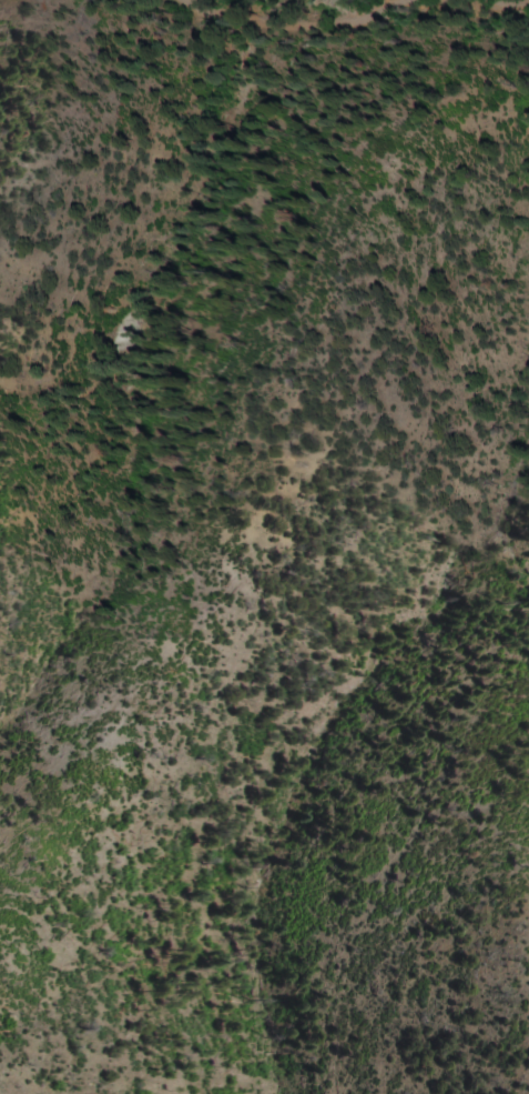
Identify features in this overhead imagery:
road: (227, 58)

